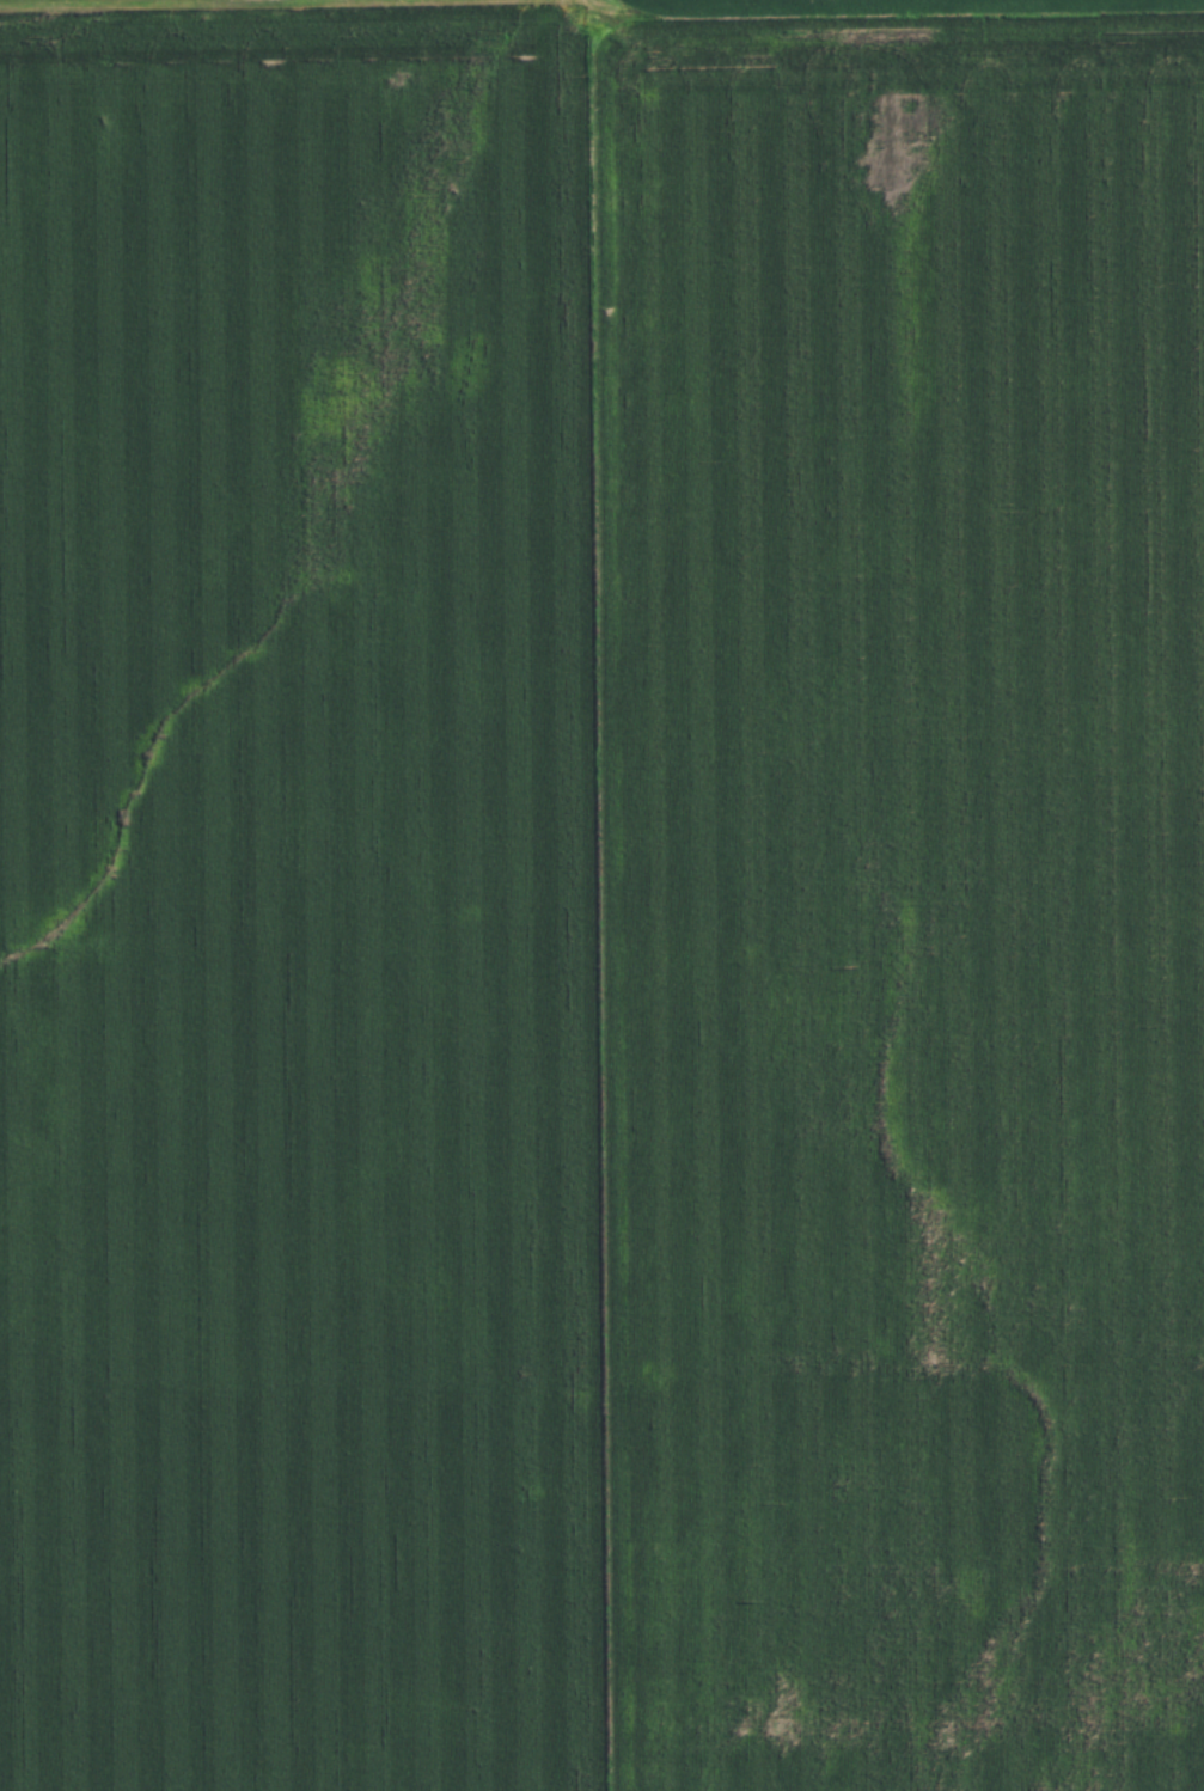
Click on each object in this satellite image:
building: (967, 355)

